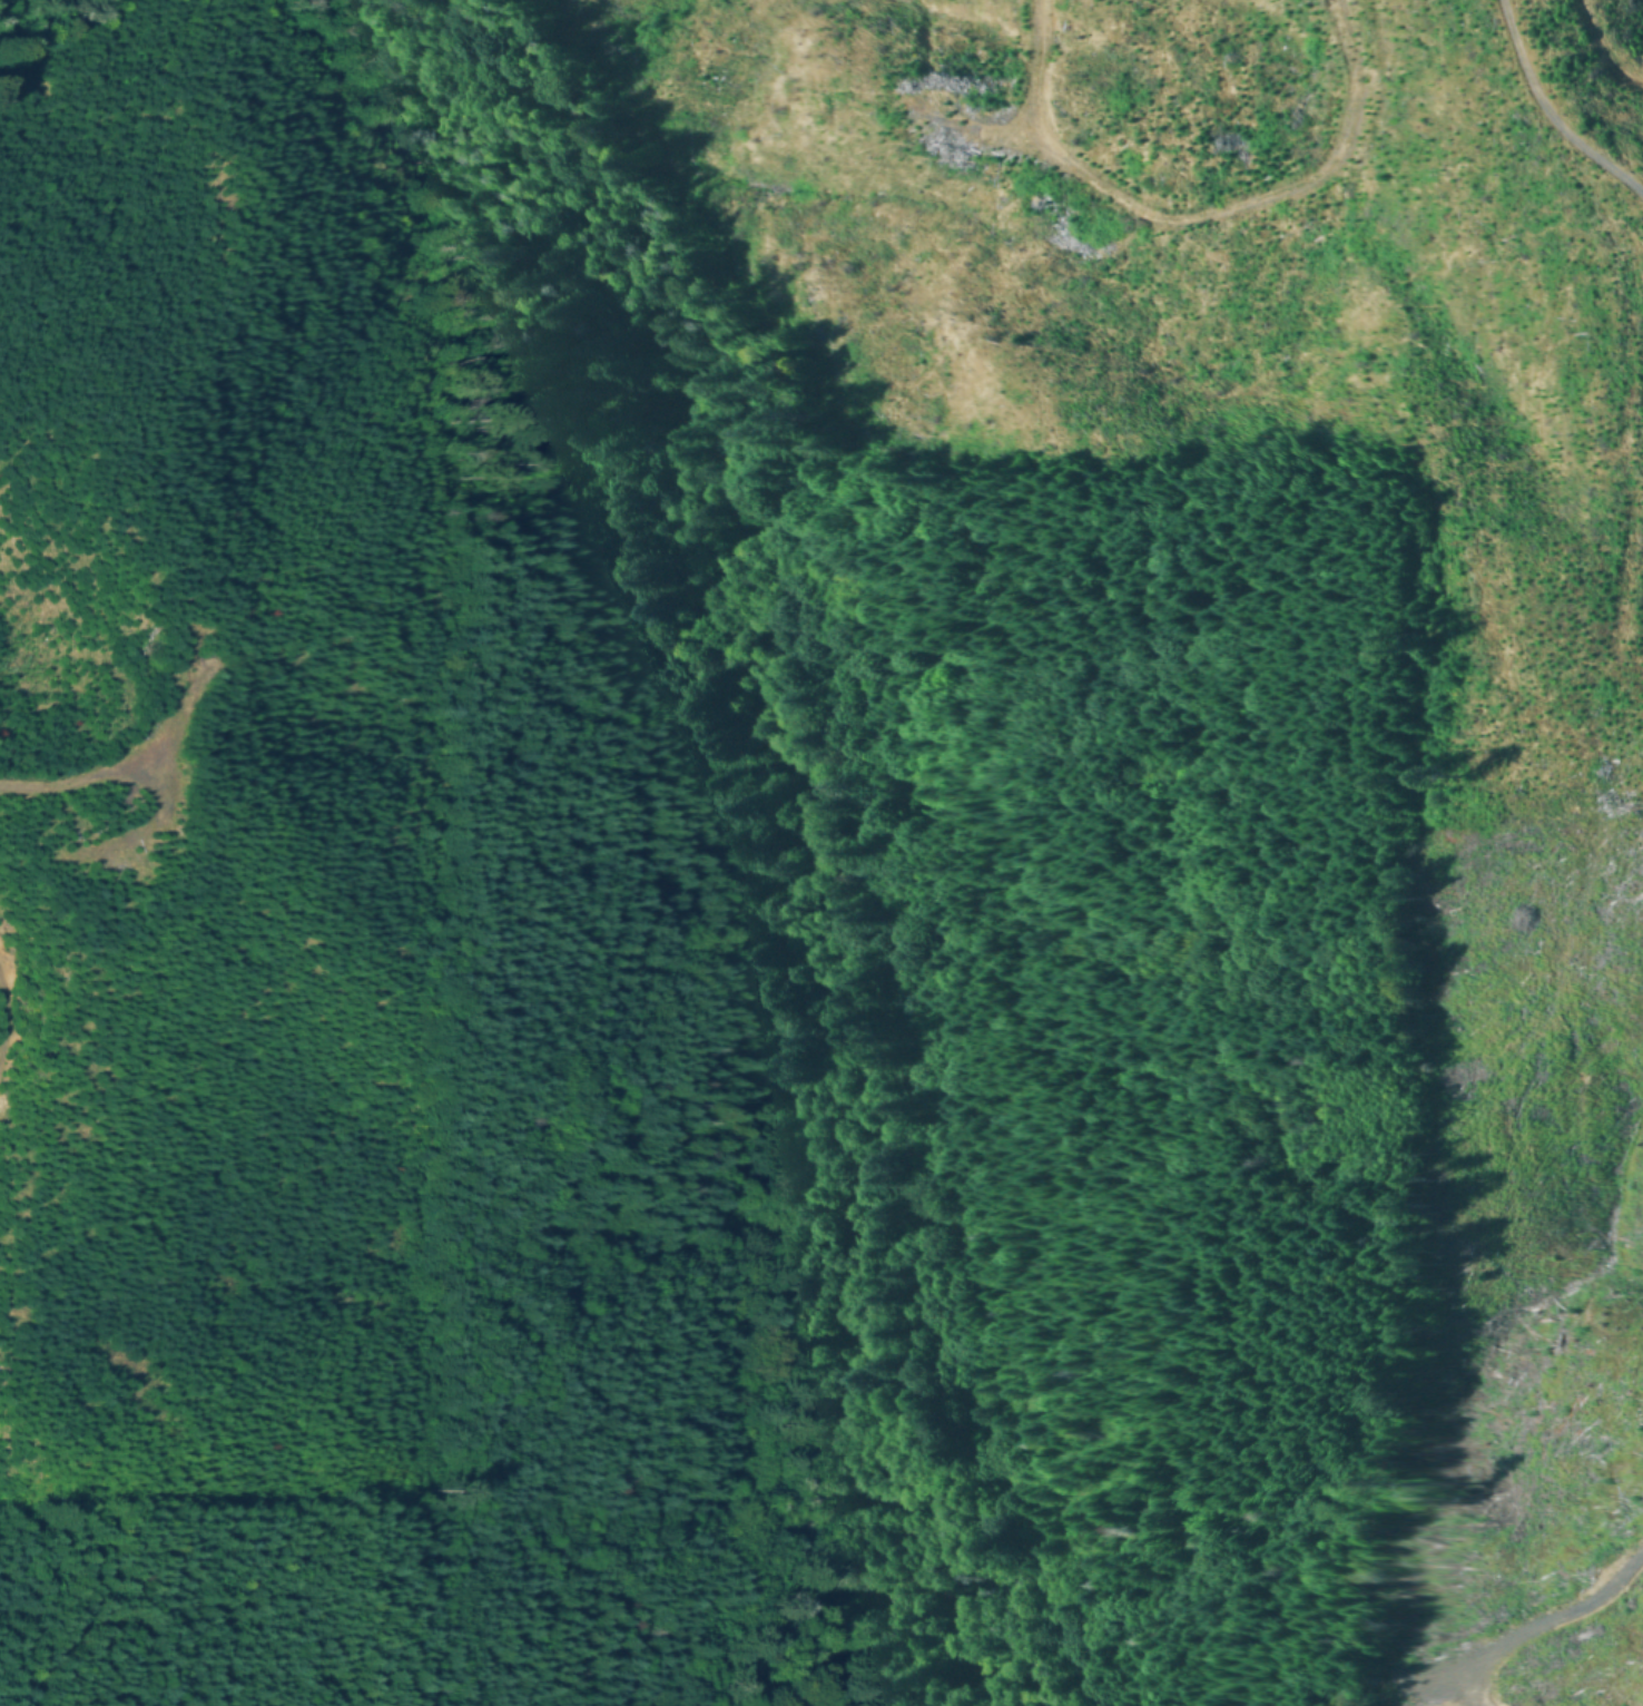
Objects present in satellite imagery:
road: (1552, 108)
road: (1197, 215)
road: (62, 768)
road: (1, 993)

